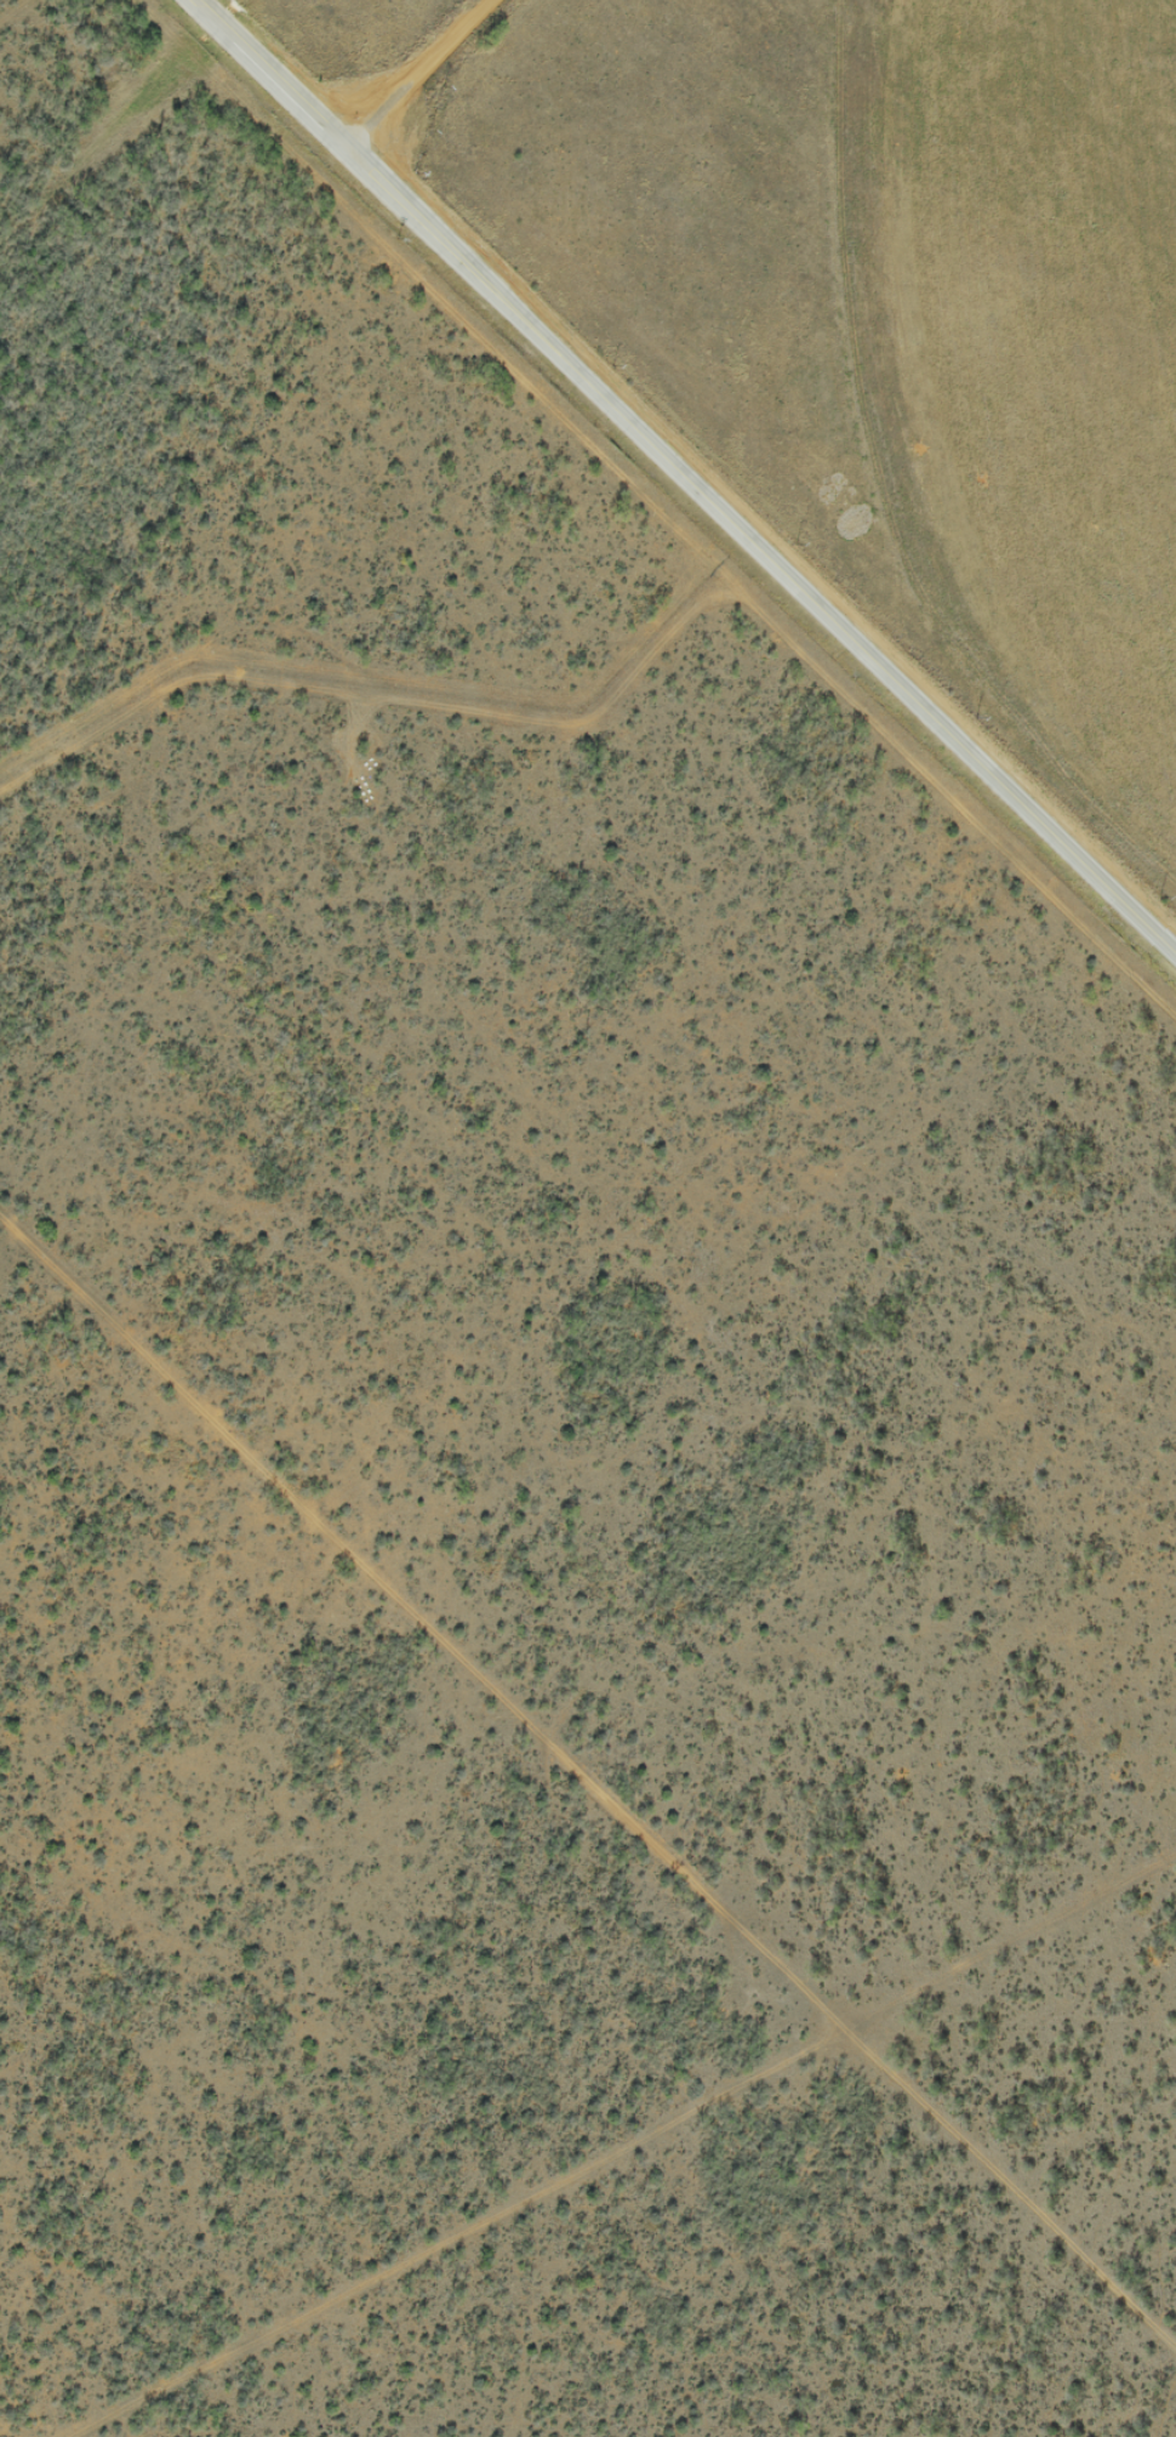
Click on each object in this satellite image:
road: (38, 27)
road: (416, 78)
road: (675, 479)

